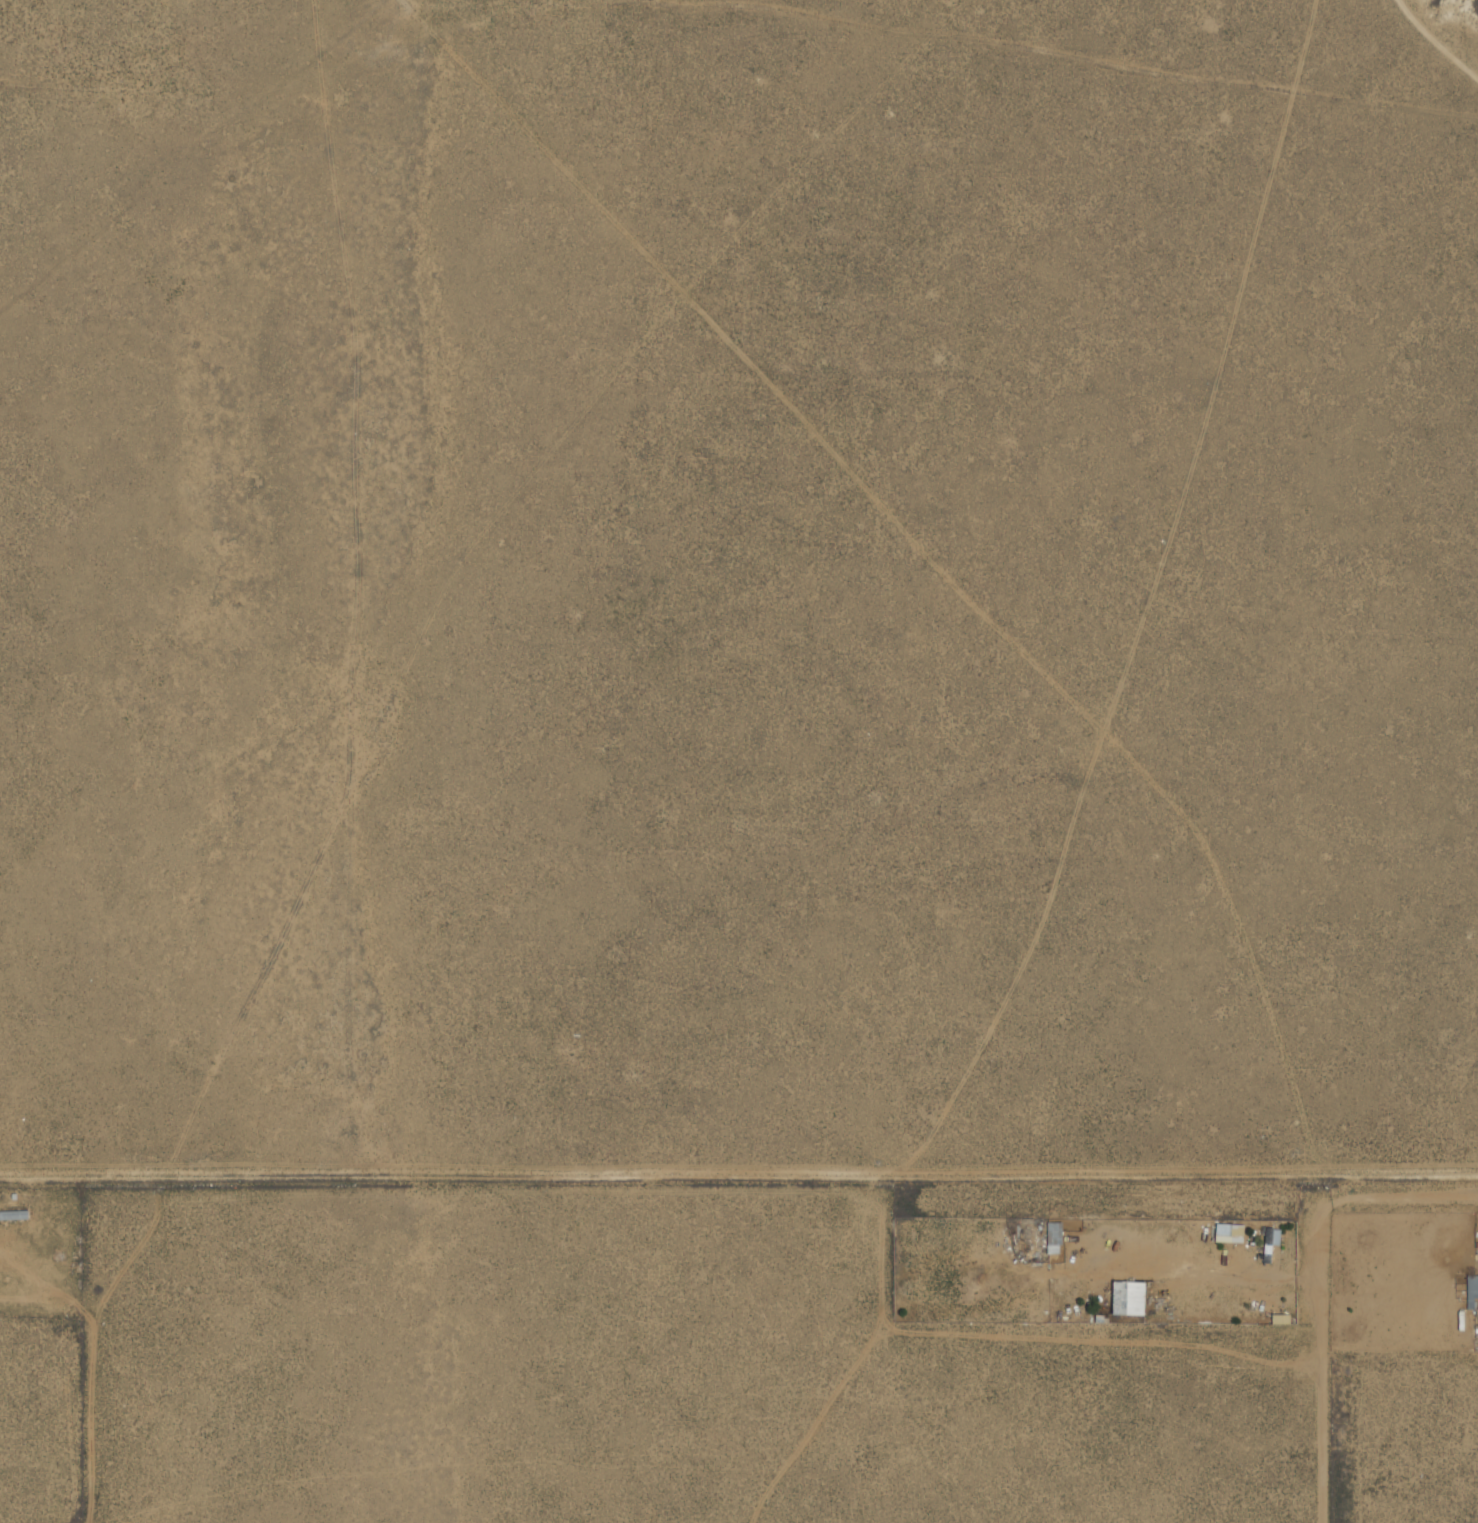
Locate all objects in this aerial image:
road: (1441, 38)
road: (738, 1174)
building: (14, 1215)
building: (1053, 1239)
building: (1472, 1289)
building: (1127, 1299)
building: (1280, 1320)
road: (1321, 1368)

